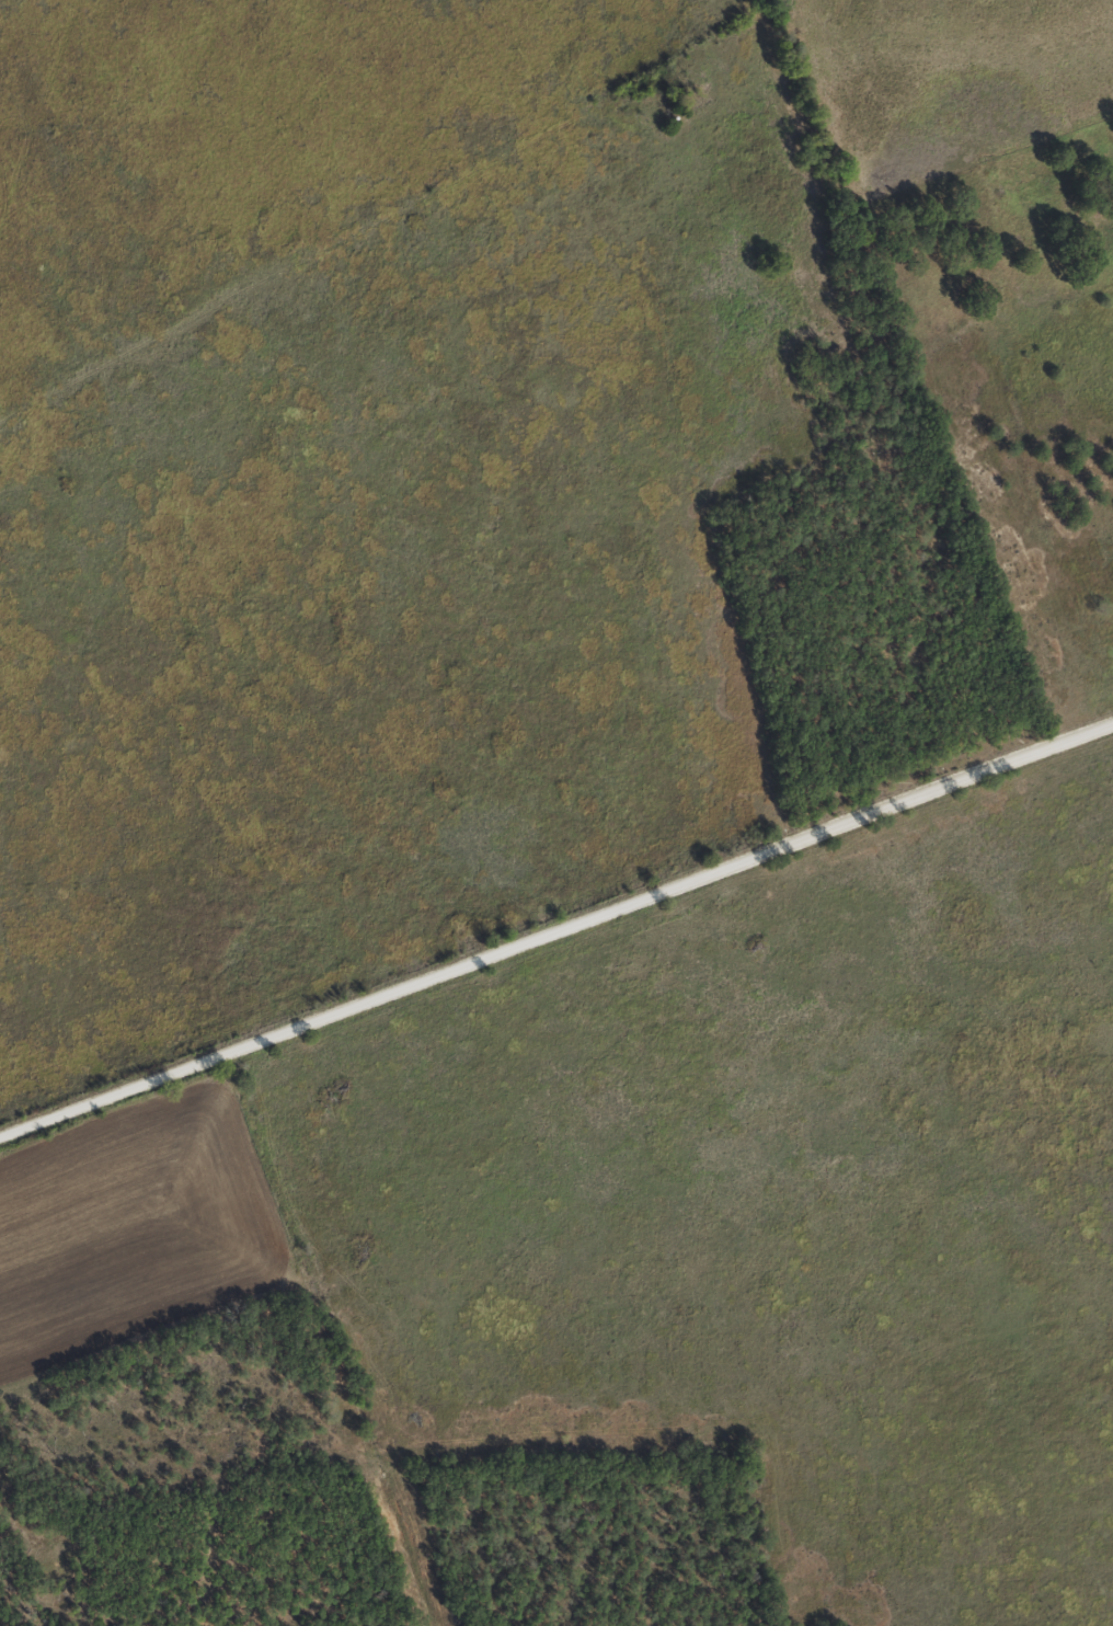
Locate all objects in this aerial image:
road: (556, 925)

